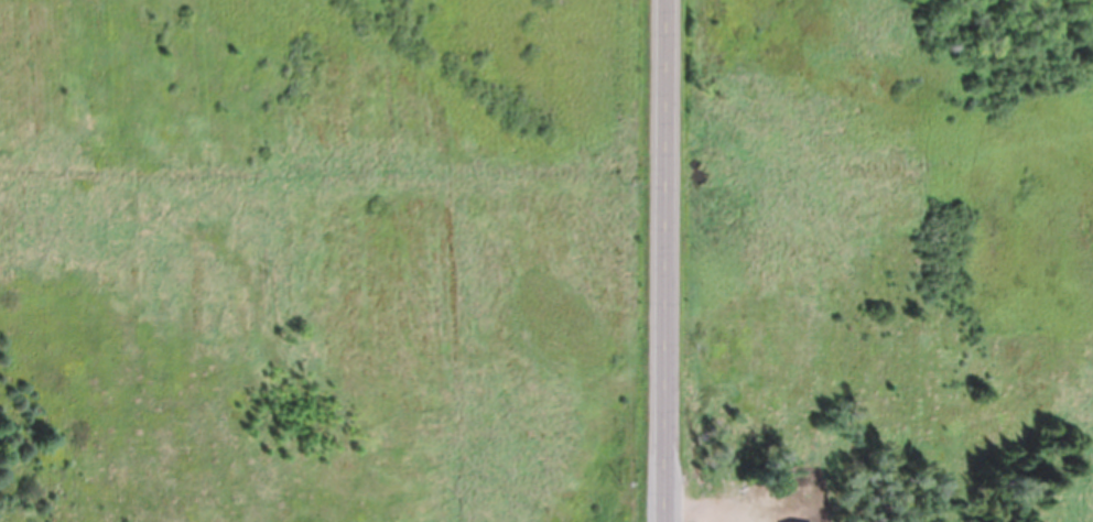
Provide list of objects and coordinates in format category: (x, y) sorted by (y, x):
road: (663, 261)

